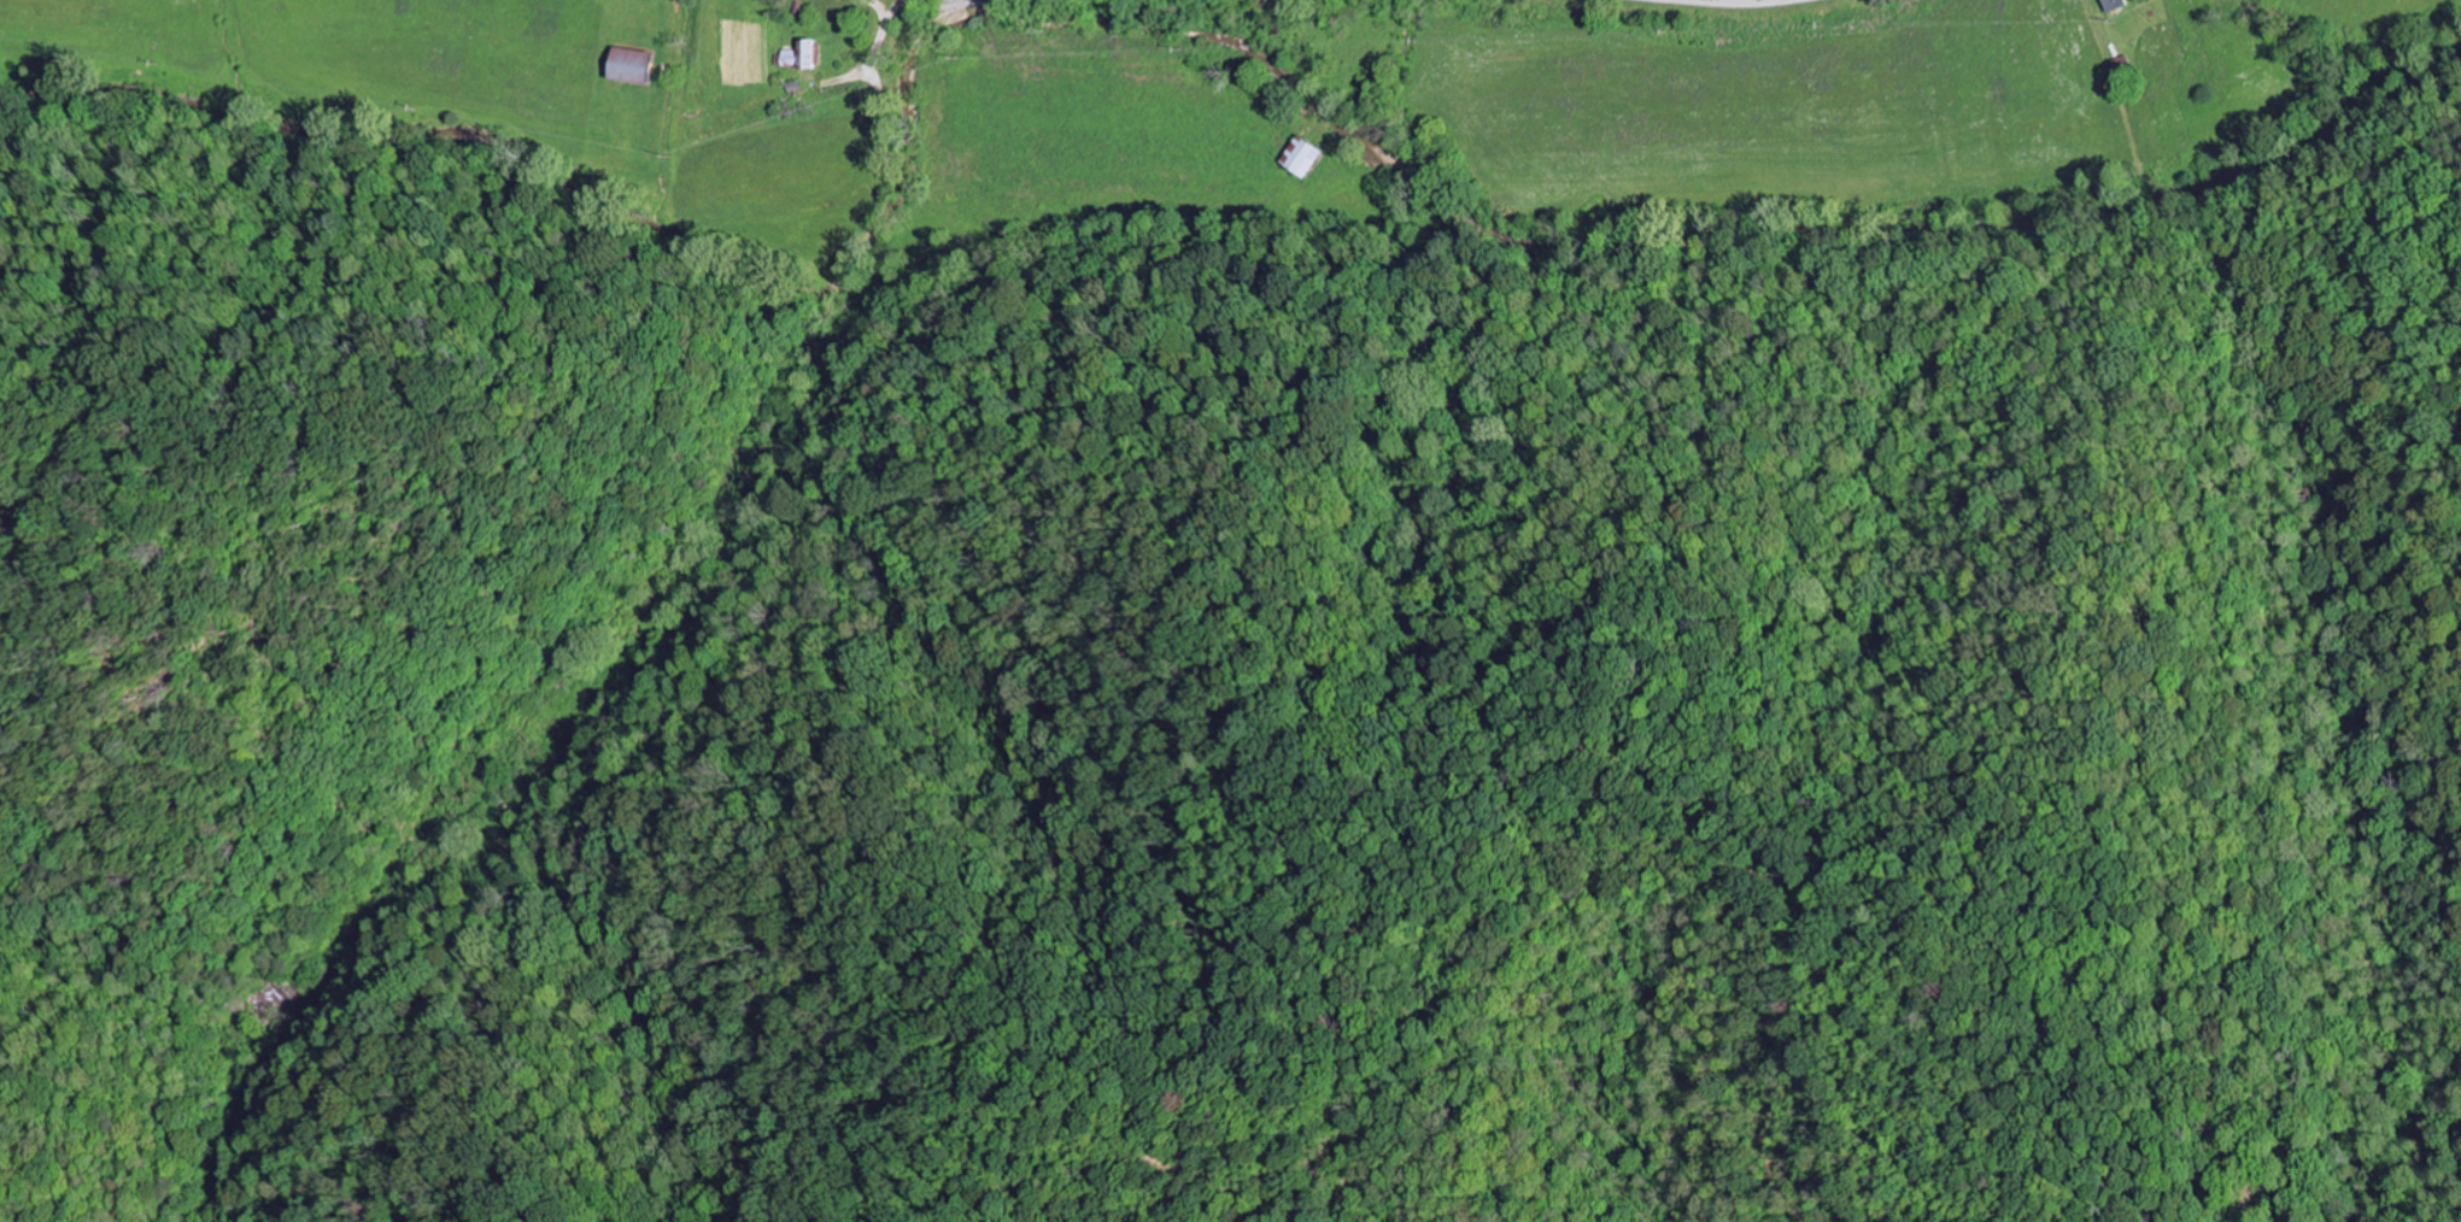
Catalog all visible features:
building: (2113, 5)
road: (878, 6)
road: (1498, 20)
road: (879, 27)
building: (798, 57)
building: (629, 66)
road: (845, 76)
building: (1301, 158)
road: (574, 656)

